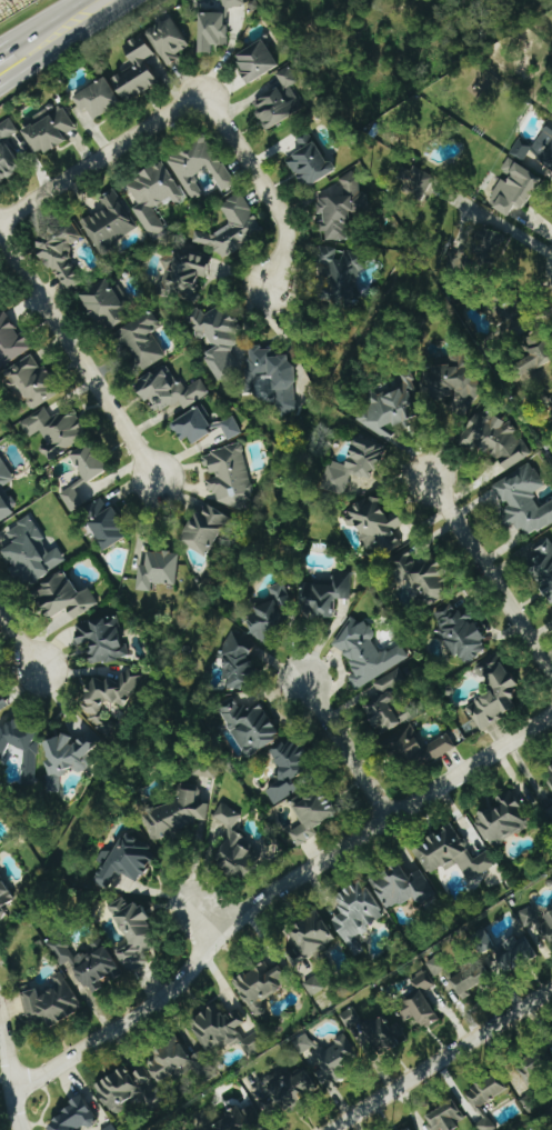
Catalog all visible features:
building: (232, 3)
road: (53, 28)
building: (212, 31)
building: (168, 40)
road: (57, 43)
building: (255, 61)
building: (139, 70)
building: (98, 98)
building: (279, 100)
building: (7, 129)
building: (549, 129)
building: (48, 130)
building: (521, 150)
building: (548, 153)
road: (101, 158)
building: (8, 162)
building: (310, 162)
building: (199, 167)
building: (418, 181)
road: (263, 182)
building: (514, 188)
building: (154, 196)
building: (341, 209)
building: (109, 221)
building: (232, 228)
building: (494, 241)
building: (61, 254)
building: (183, 273)
building: (342, 274)
building: (107, 303)
building: (0, 304)
building: (511, 320)
building: (218, 339)
building: (533, 341)
building: (11, 342)
building: (141, 342)
road: (78, 356)
building: (536, 359)
building: (273, 374)
building: (454, 377)
building: (31, 383)
building: (169, 390)
building: (551, 400)
building: (390, 407)
building: (192, 427)
building: (231, 428)
building: (56, 430)
building: (495, 440)
building: (89, 462)
building: (355, 464)
building: (229, 476)
building: (4, 498)
building: (72, 499)
building: (523, 501)
building: (104, 523)
building: (374, 524)
building: (204, 530)
building: (30, 553)
building: (158, 570)
road: (492, 576)
building: (423, 577)
building: (325, 596)
building: (64, 601)
building: (273, 614)
building: (461, 633)
building: (101, 639)
road: (19, 640)
building: (367, 653)
building: (493, 694)
building: (109, 698)
building: (387, 703)
building: (2, 704)
building: (250, 727)
building: (21, 748)
building: (414, 748)
road: (345, 750)
building: (69, 754)
building: (287, 770)
building: (205, 772)
building: (549, 773)
building: (550, 813)
building: (175, 816)
building: (312, 817)
building: (502, 821)
building: (232, 847)
building: (451, 856)
building: (124, 861)
building: (404, 890)
road: (272, 893)
building: (4, 898)
building: (357, 913)
road: (207, 920)
building: (539, 922)
building: (133, 932)
building: (311, 937)
building: (506, 949)
building: (87, 963)
building: (438, 966)
building: (472, 981)
building: (261, 987)
building: (314, 987)
building: (50, 1002)
building: (420, 1002)
building: (224, 1031)
building: (348, 1046)
road: (441, 1059)
building: (170, 1063)
road: (9, 1076)
building: (129, 1090)
building: (289, 1091)
building: (485, 1092)
building: (532, 1102)
building: (74, 1118)
building: (444, 1118)
building: (241, 1120)
building: (485, 1126)
building: (111, 1128)
building: (411, 1129)

